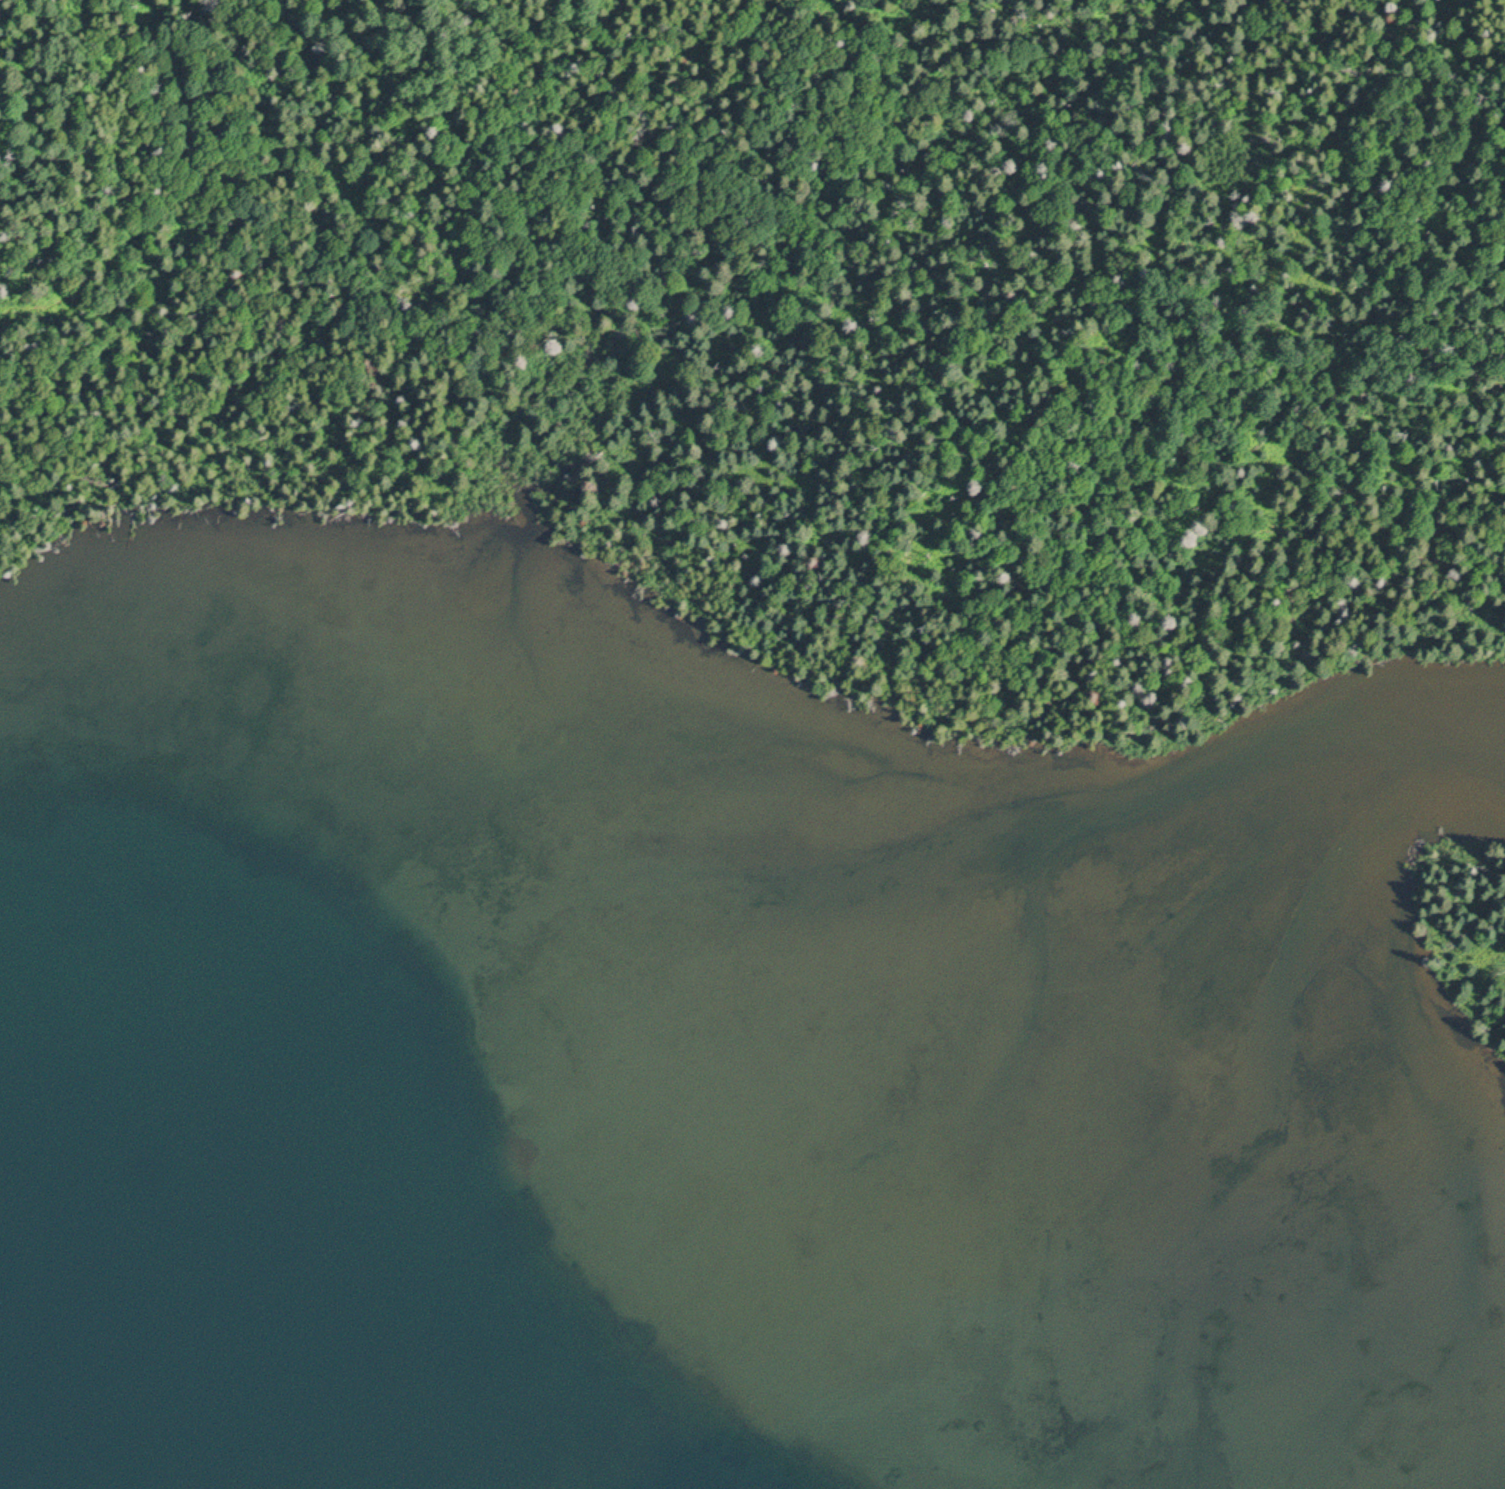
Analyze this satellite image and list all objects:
road: (709, 371)

